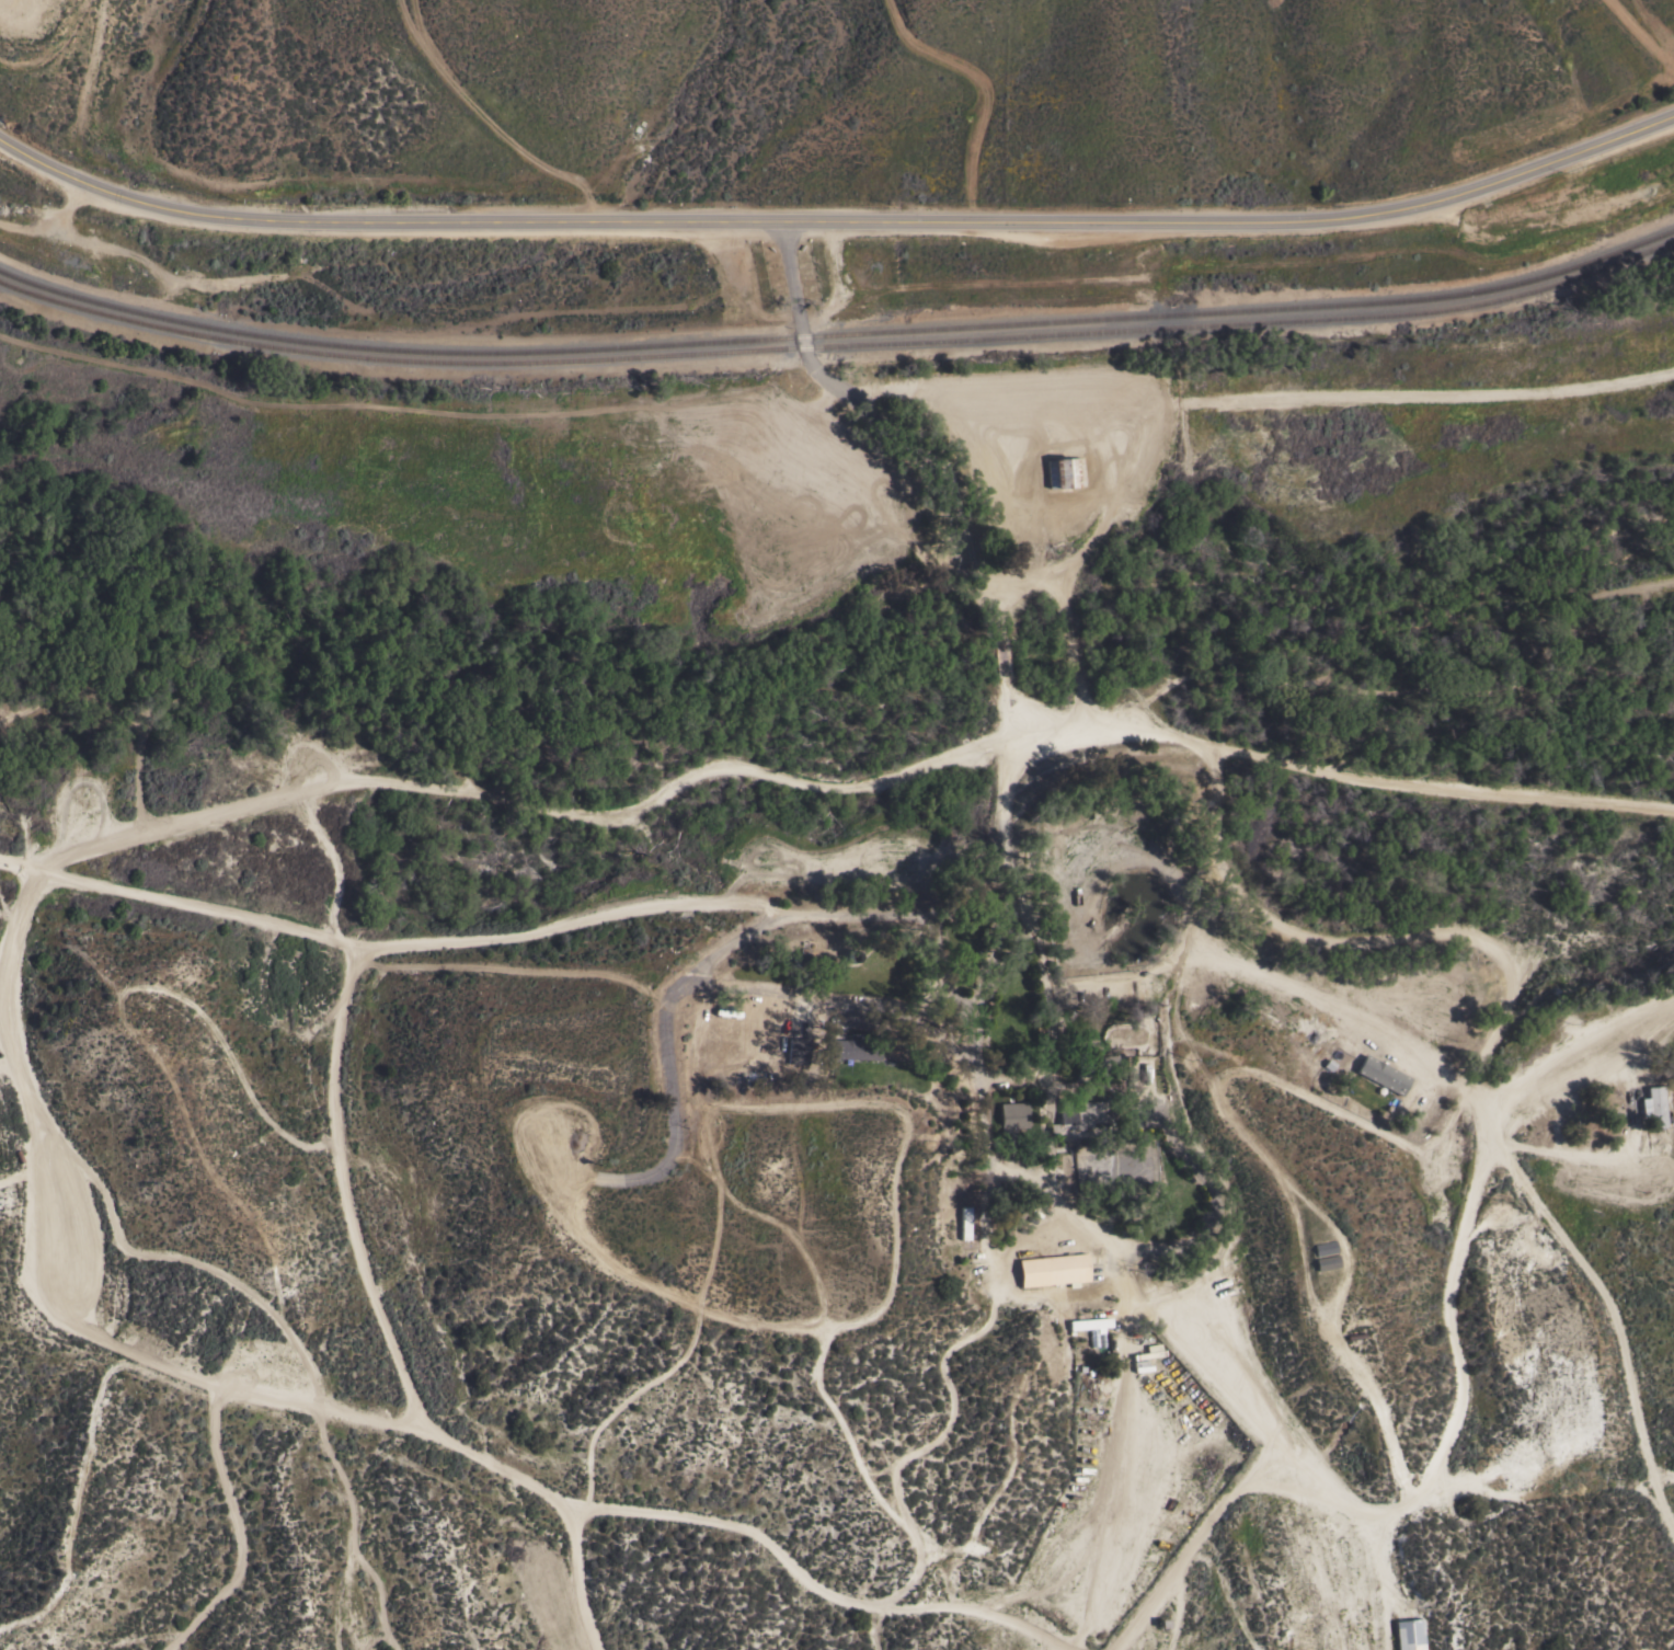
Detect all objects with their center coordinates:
road: (836, 224)
railway: (85, 300)
railway: (928, 330)
railway: (838, 346)
road: (1165, 400)
building: (1064, 473)
road: (892, 501)
road: (1045, 568)
road: (100, 844)
road: (1010, 882)
road: (858, 917)
road: (575, 920)
building: (798, 960)
road: (1296, 987)
road: (769, 989)
building: (1260, 997)
road: (1489, 1049)
building: (855, 1050)
building: (798, 1051)
road: (1220, 1056)
building: (1099, 1061)
building: (1383, 1075)
building: (1144, 1078)
building: (1654, 1108)
building: (1079, 1115)
building: (1012, 1116)
road: (1273, 1162)
building: (1066, 1172)
road: (347, 1191)
building: (1321, 1248)
road: (183, 1257)
building: (1325, 1263)
building: (1053, 1270)
building: (1089, 1325)
road: (983, 1330)
road: (1454, 1341)
building: (1092, 1353)
road: (1662, 1478)
road: (239, 1532)
road: (1194, 1545)
road: (580, 1577)
road: (1380, 1580)
building: (1409, 1635)
road: (1043, 1641)

